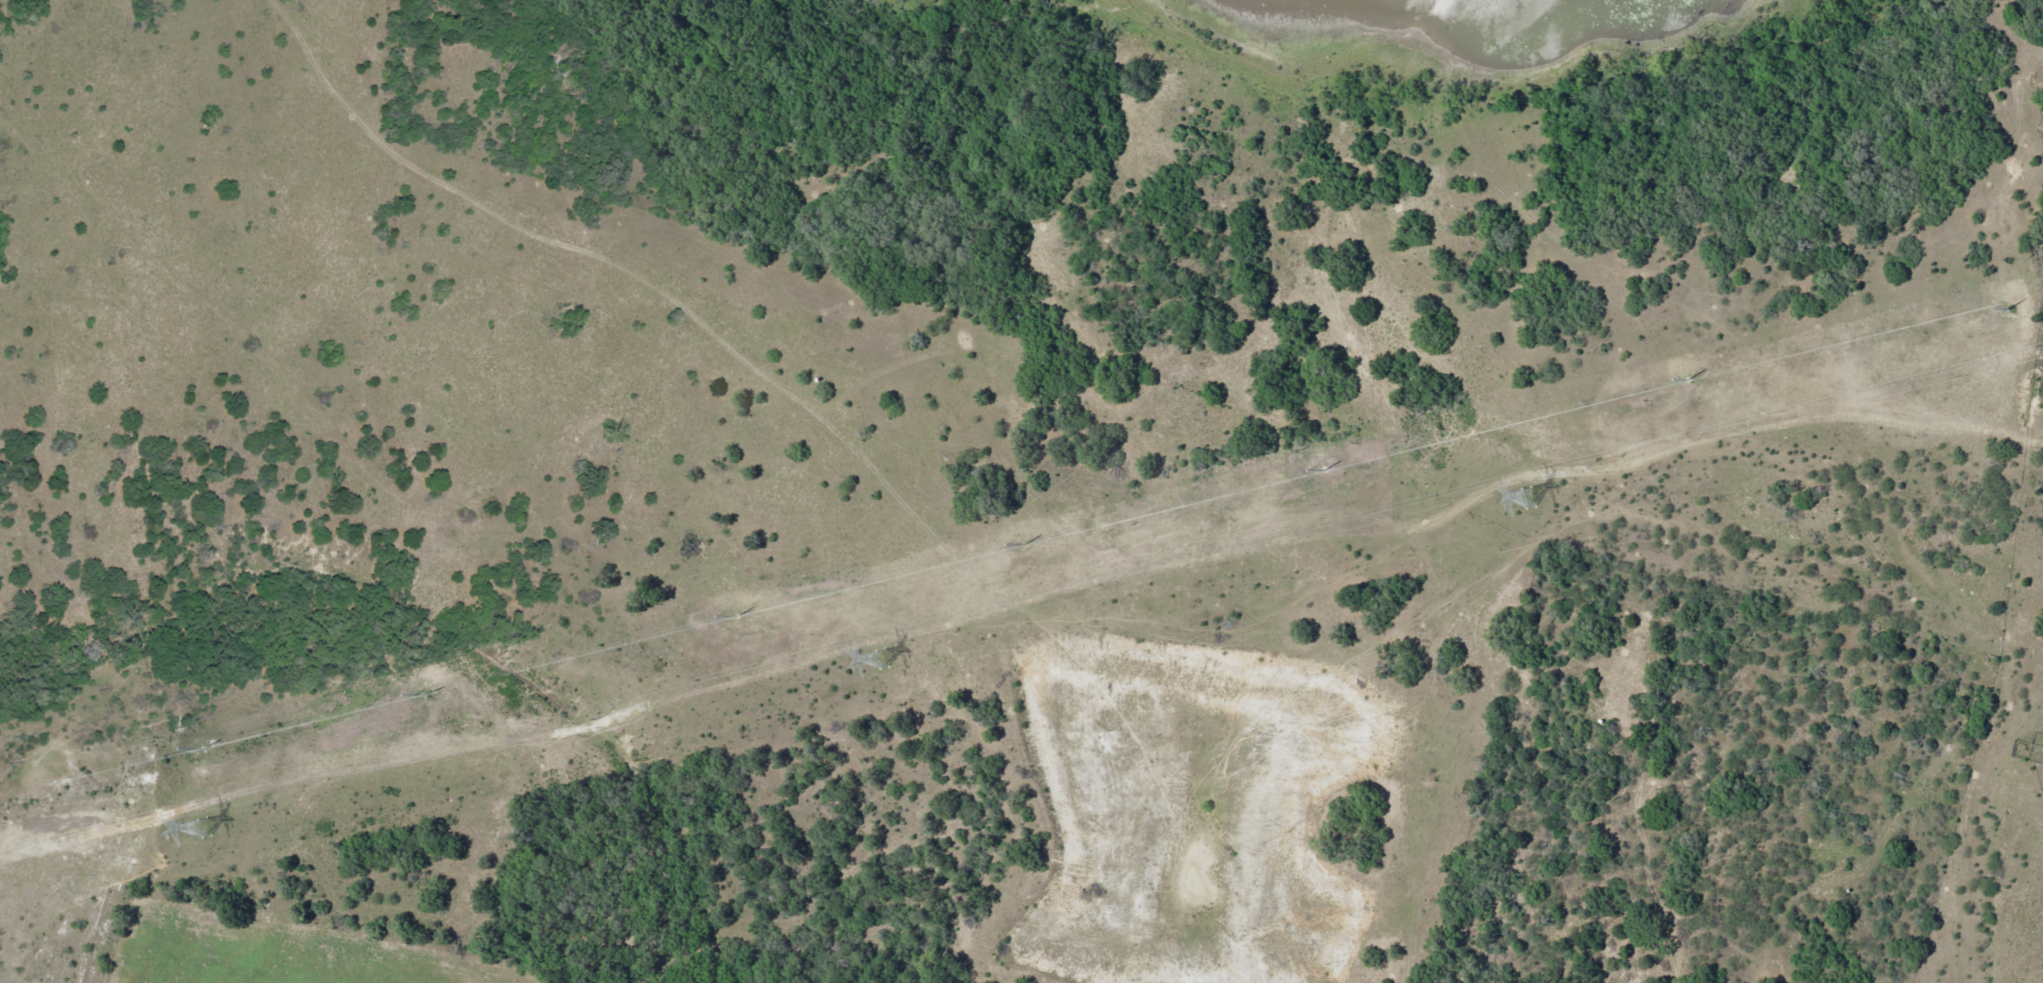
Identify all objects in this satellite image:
power tower: (1528, 497)
power tower: (880, 658)
power tower: (204, 828)

